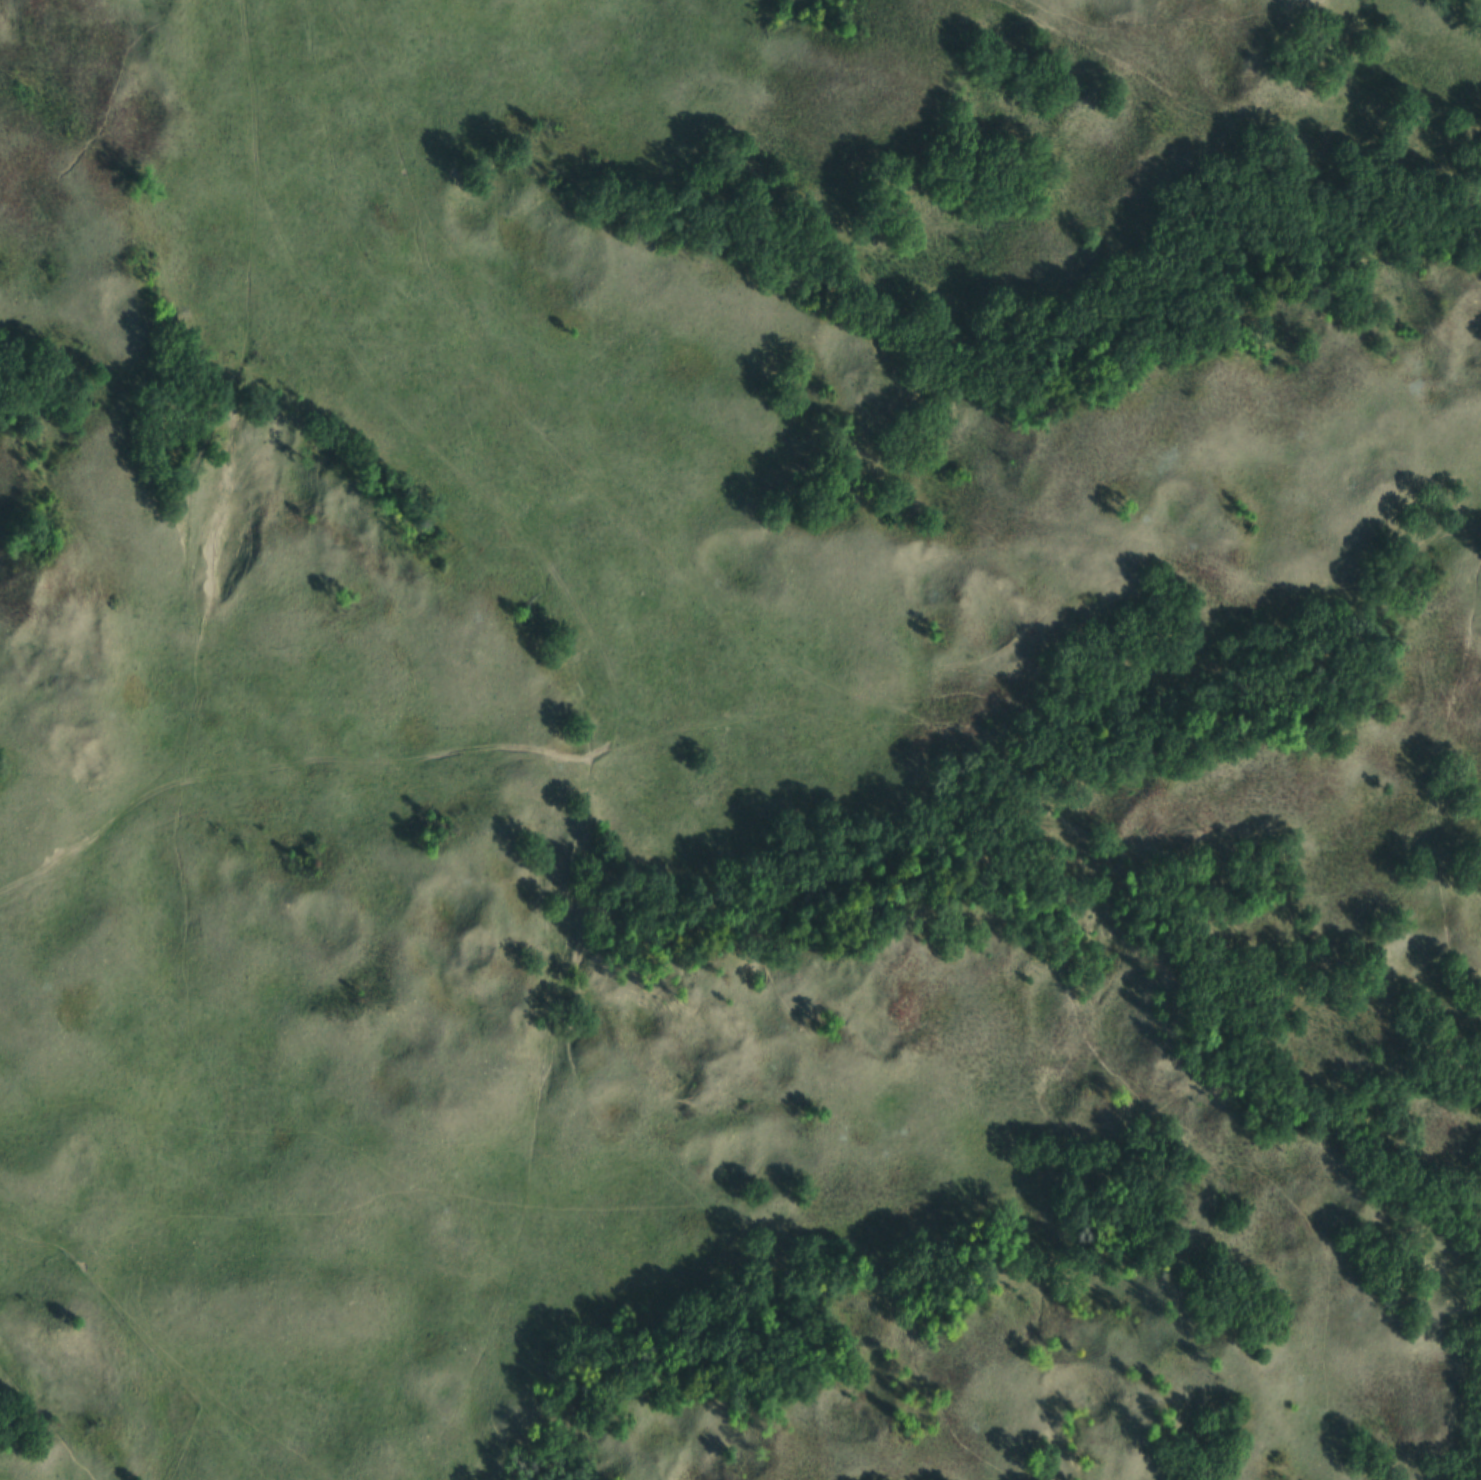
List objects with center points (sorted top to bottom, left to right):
road: (597, 643)

